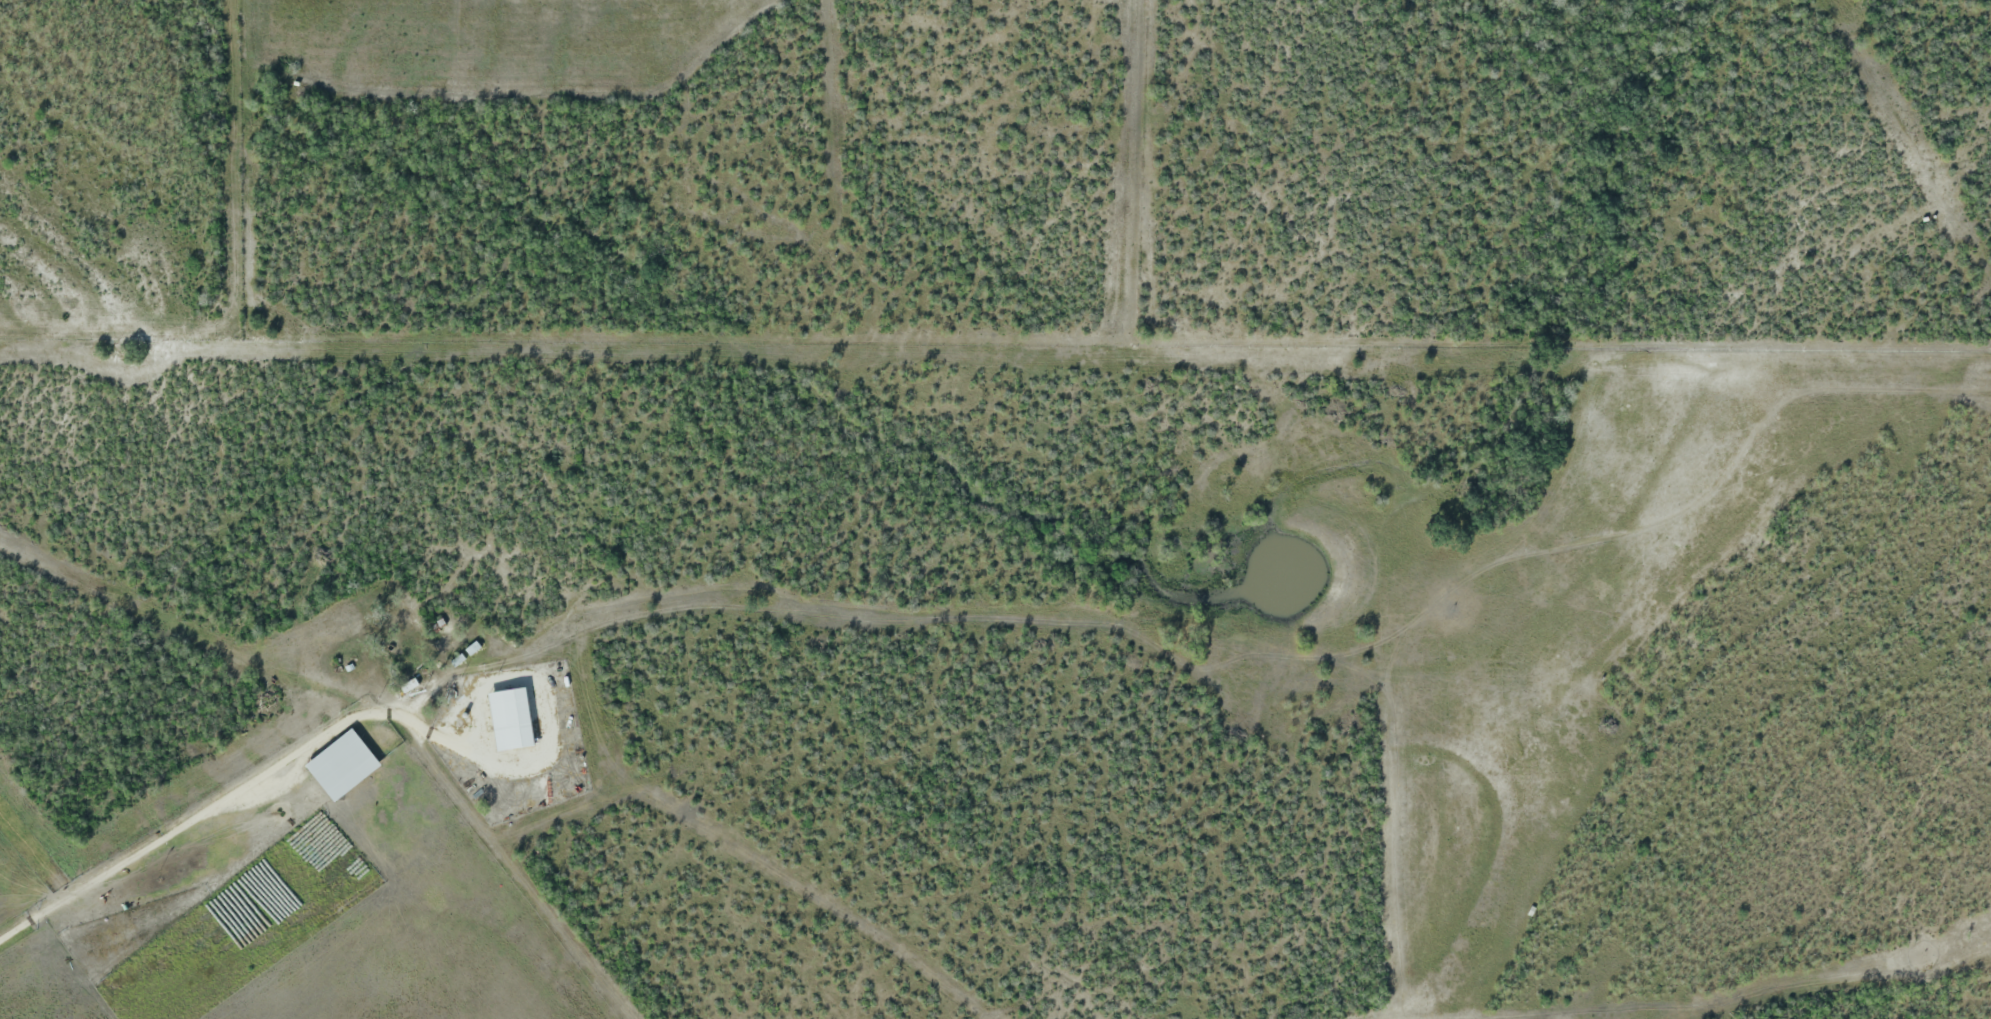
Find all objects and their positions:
road: (177, 841)

